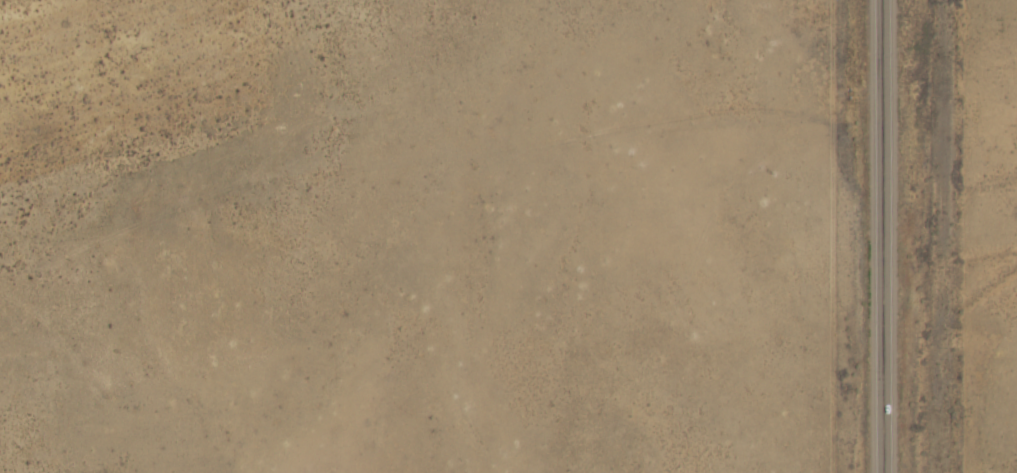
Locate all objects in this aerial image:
road: (901, 236)

